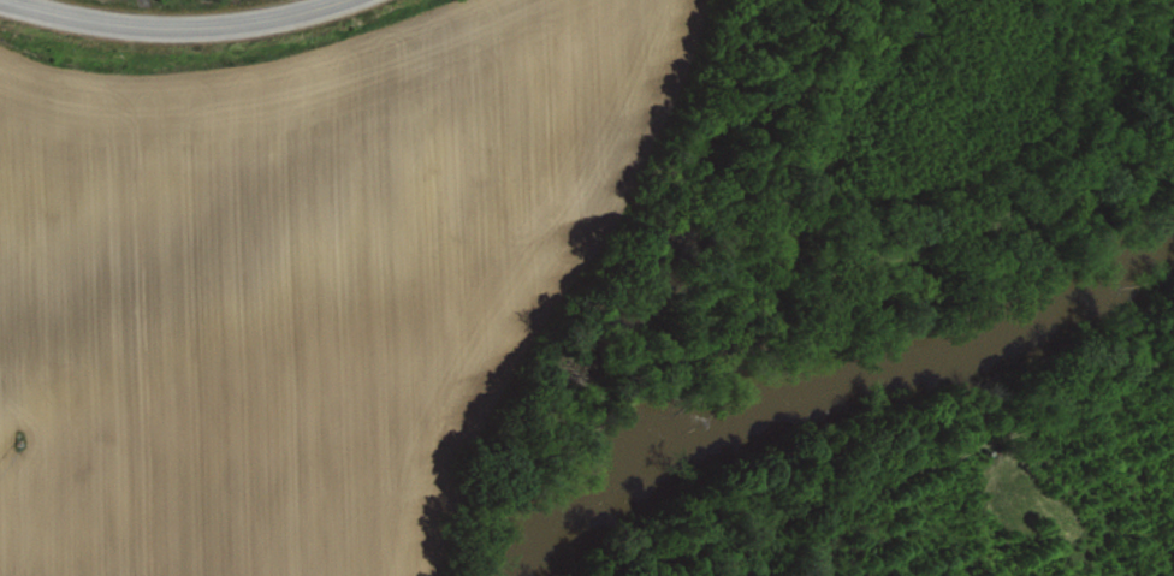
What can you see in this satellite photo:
road: (167, 28)
river: (826, 379)

